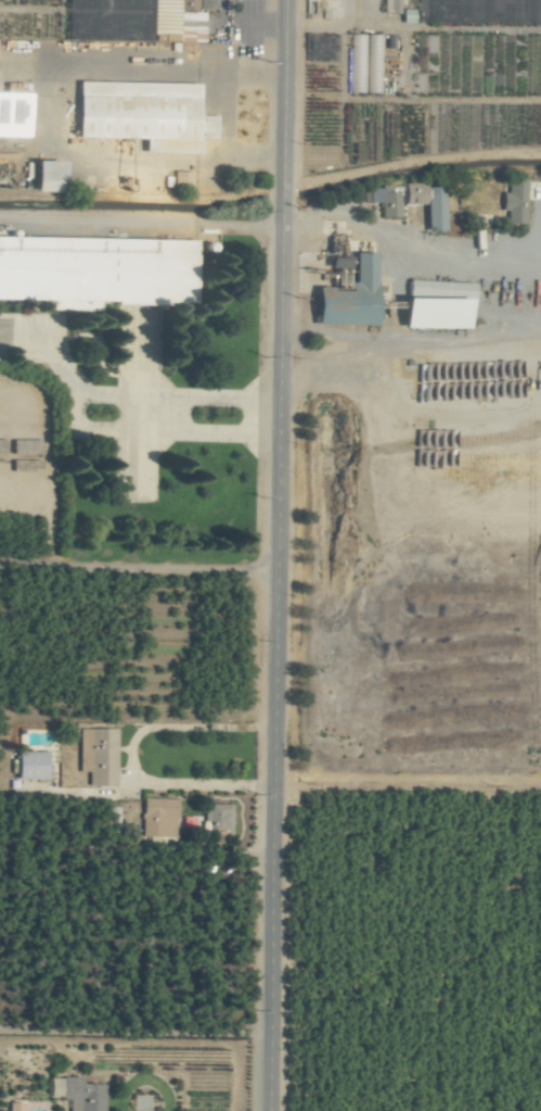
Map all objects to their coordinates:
crop: (260, 96)
road: (224, 113)
building: (142, 115)
building: (43, 177)
building: (384, 201)
building: (513, 201)
building: (424, 204)
road: (140, 222)
road: (405, 249)
building: (151, 272)
building: (347, 299)
building: (434, 312)
road: (402, 341)
road: (67, 390)
road: (155, 413)
crop: (270, 555)
road: (275, 555)
road: (138, 569)
building: (96, 754)
road: (130, 755)
building: (28, 765)
building: (157, 817)
building: (110, 818)
building: (216, 818)
road: (134, 1030)
road: (150, 1040)
building: (76, 1094)
building: (12, 1107)

